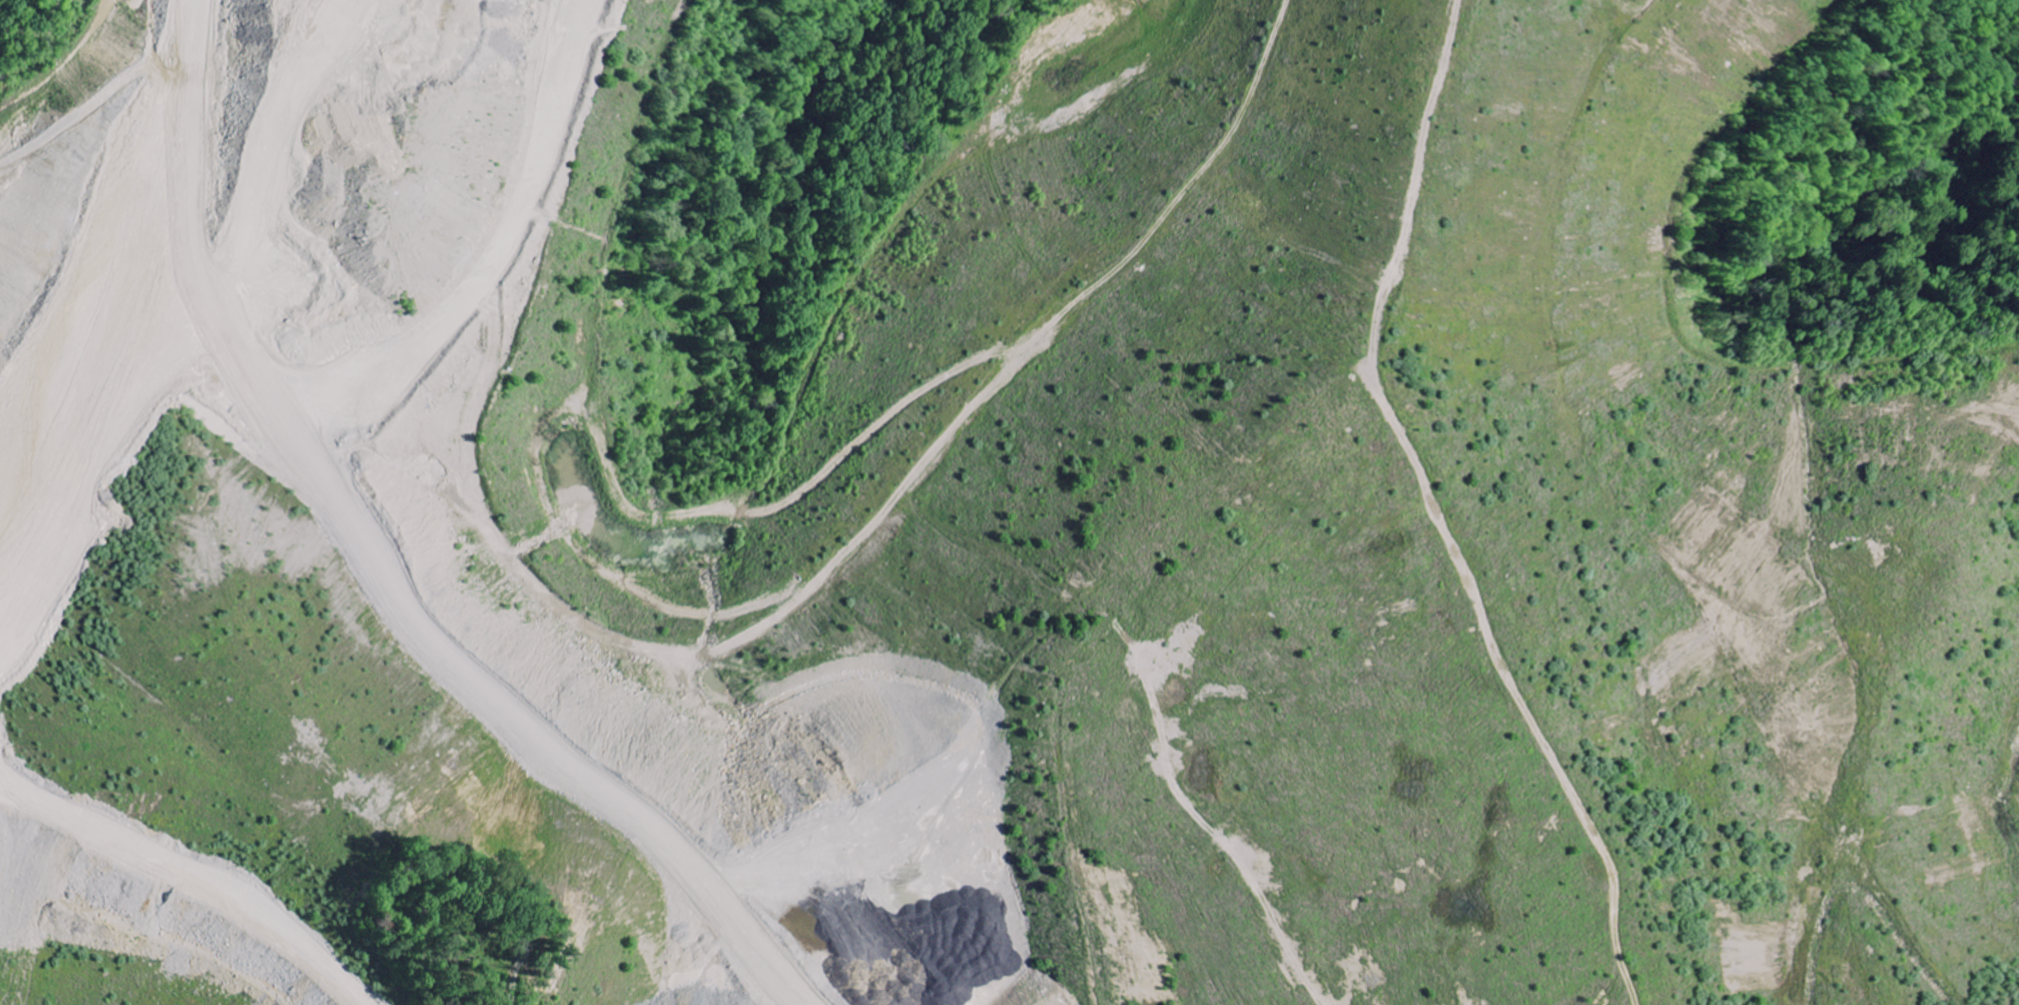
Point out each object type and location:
quarry: (1009, 502)

